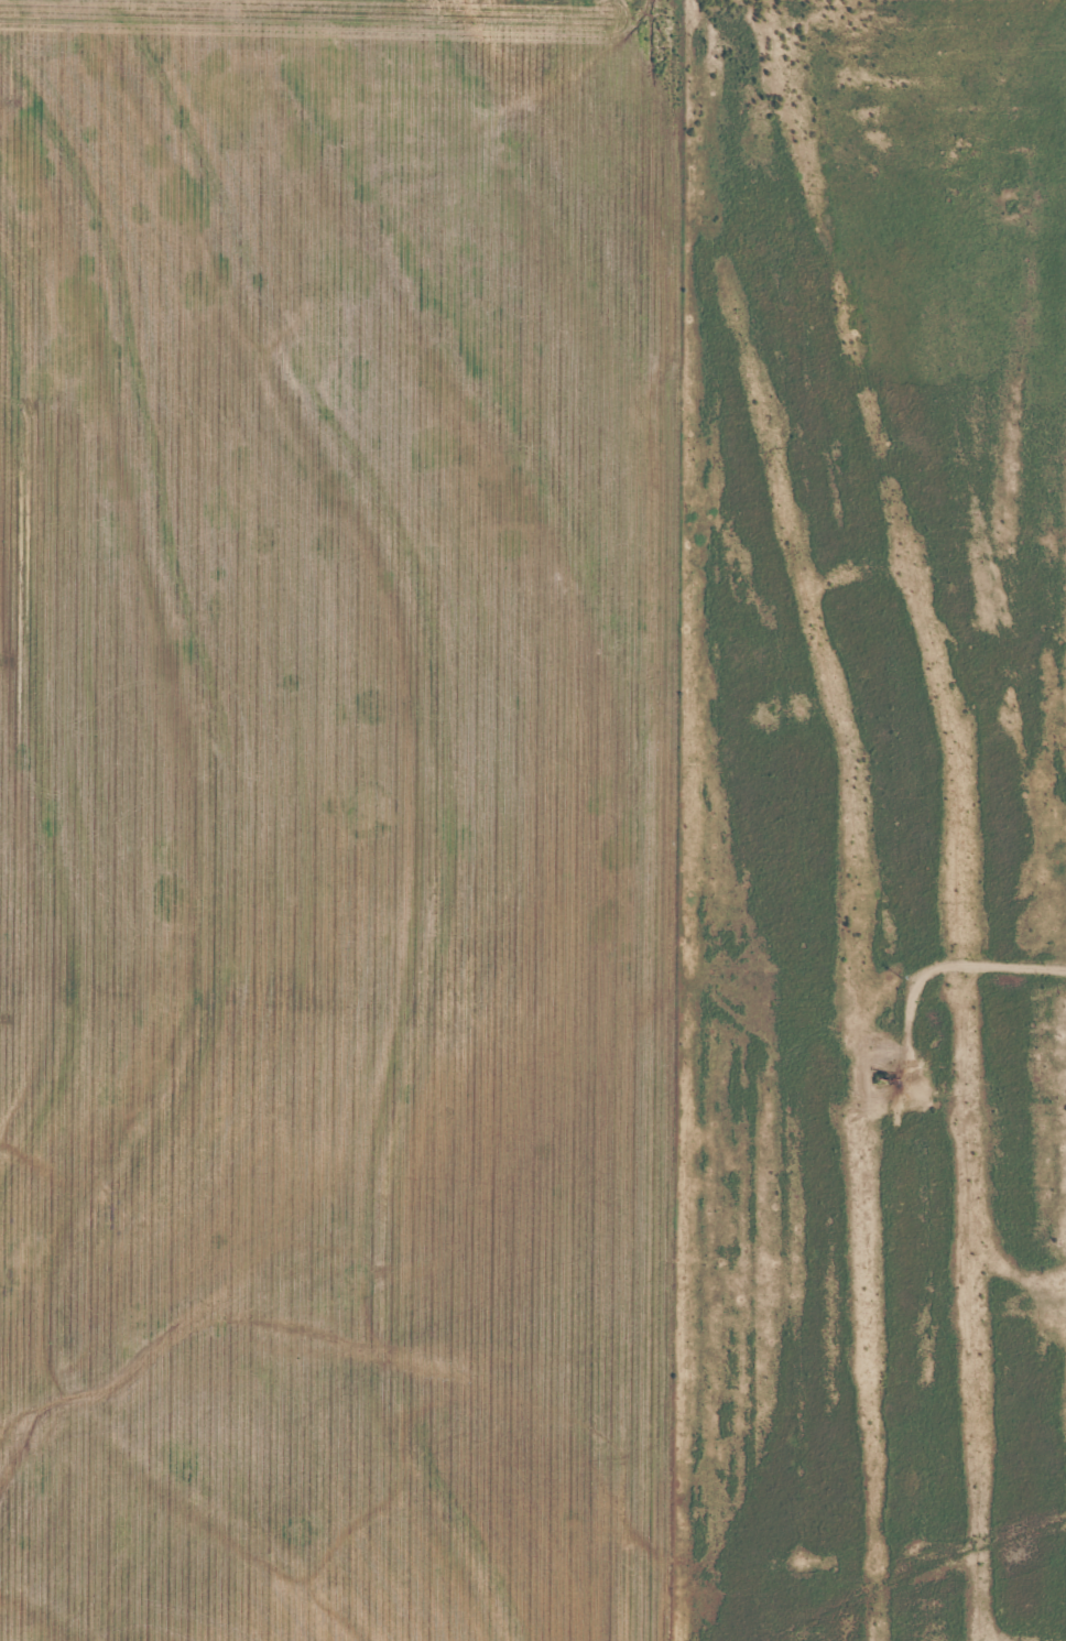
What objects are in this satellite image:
road: (1056, 171)
road: (102, 405)
road: (197, 986)
petroleum well: (888, 1072)
road: (893, 1366)

